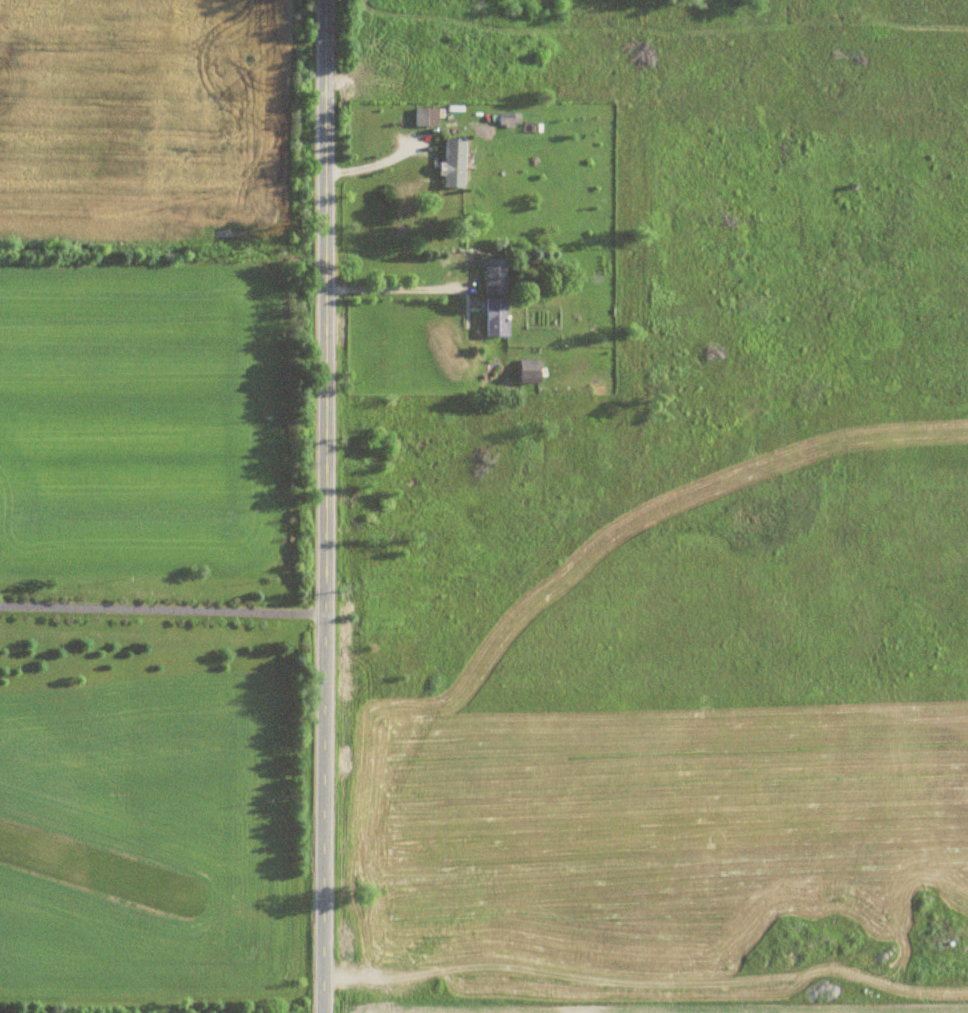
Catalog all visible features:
road: (378, 156)
building: (451, 163)
building: (492, 278)
road: (392, 291)
building: (492, 318)
building: (525, 372)
road: (325, 506)
road: (162, 613)
crop: (151, 837)
crop: (673, 1008)

